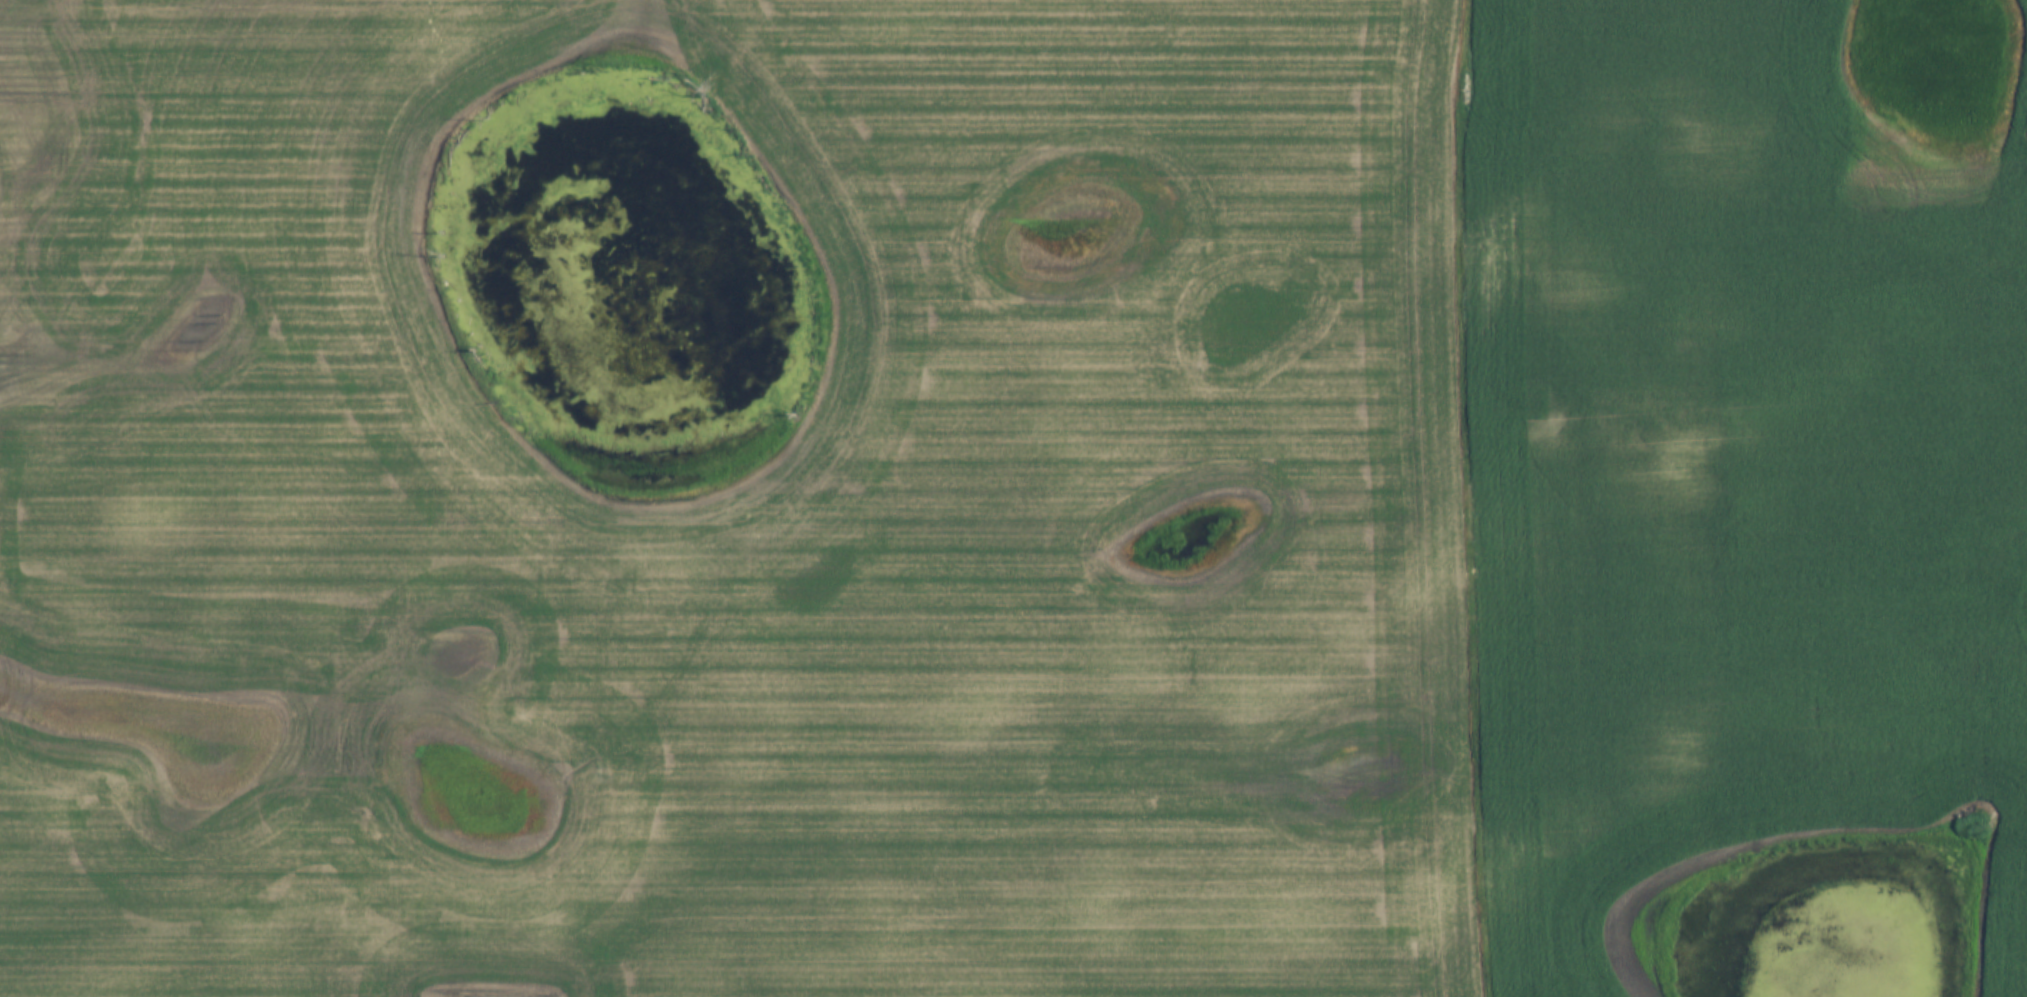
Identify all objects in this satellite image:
road: (1469, 498)

